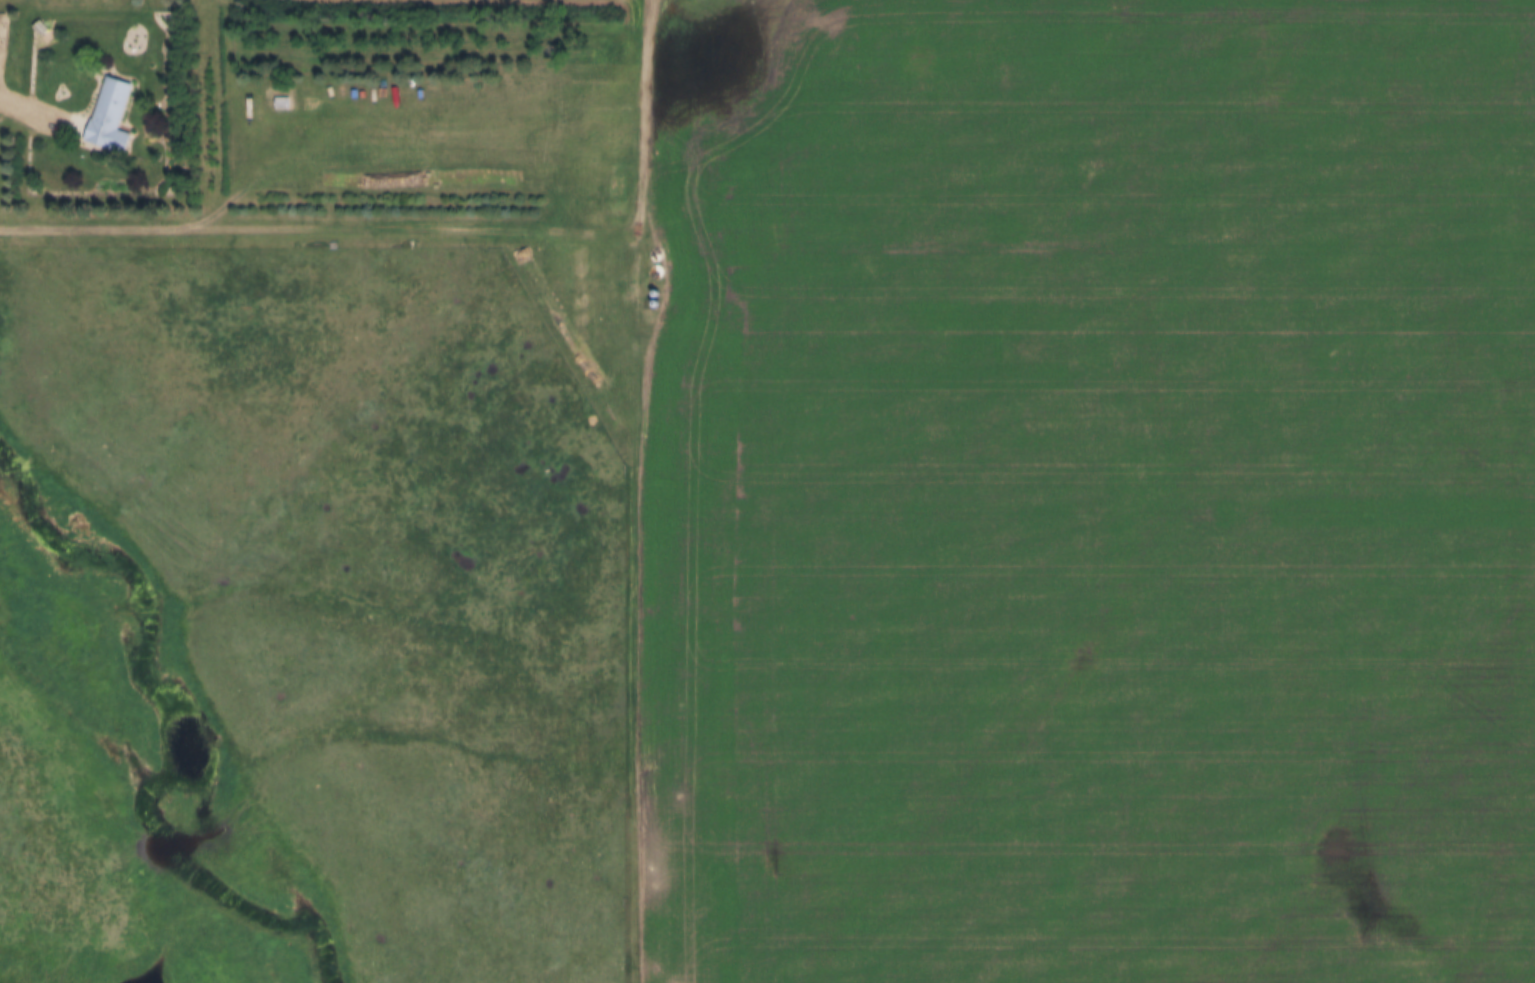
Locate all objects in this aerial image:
building: (282, 101)
road: (646, 102)
building: (111, 114)
road: (319, 222)
building: (581, 252)
building: (658, 253)
building: (656, 271)
building: (581, 276)
building: (582, 300)
building: (544, 304)
building: (582, 317)
building: (583, 333)
building: (582, 350)
road: (634, 593)

